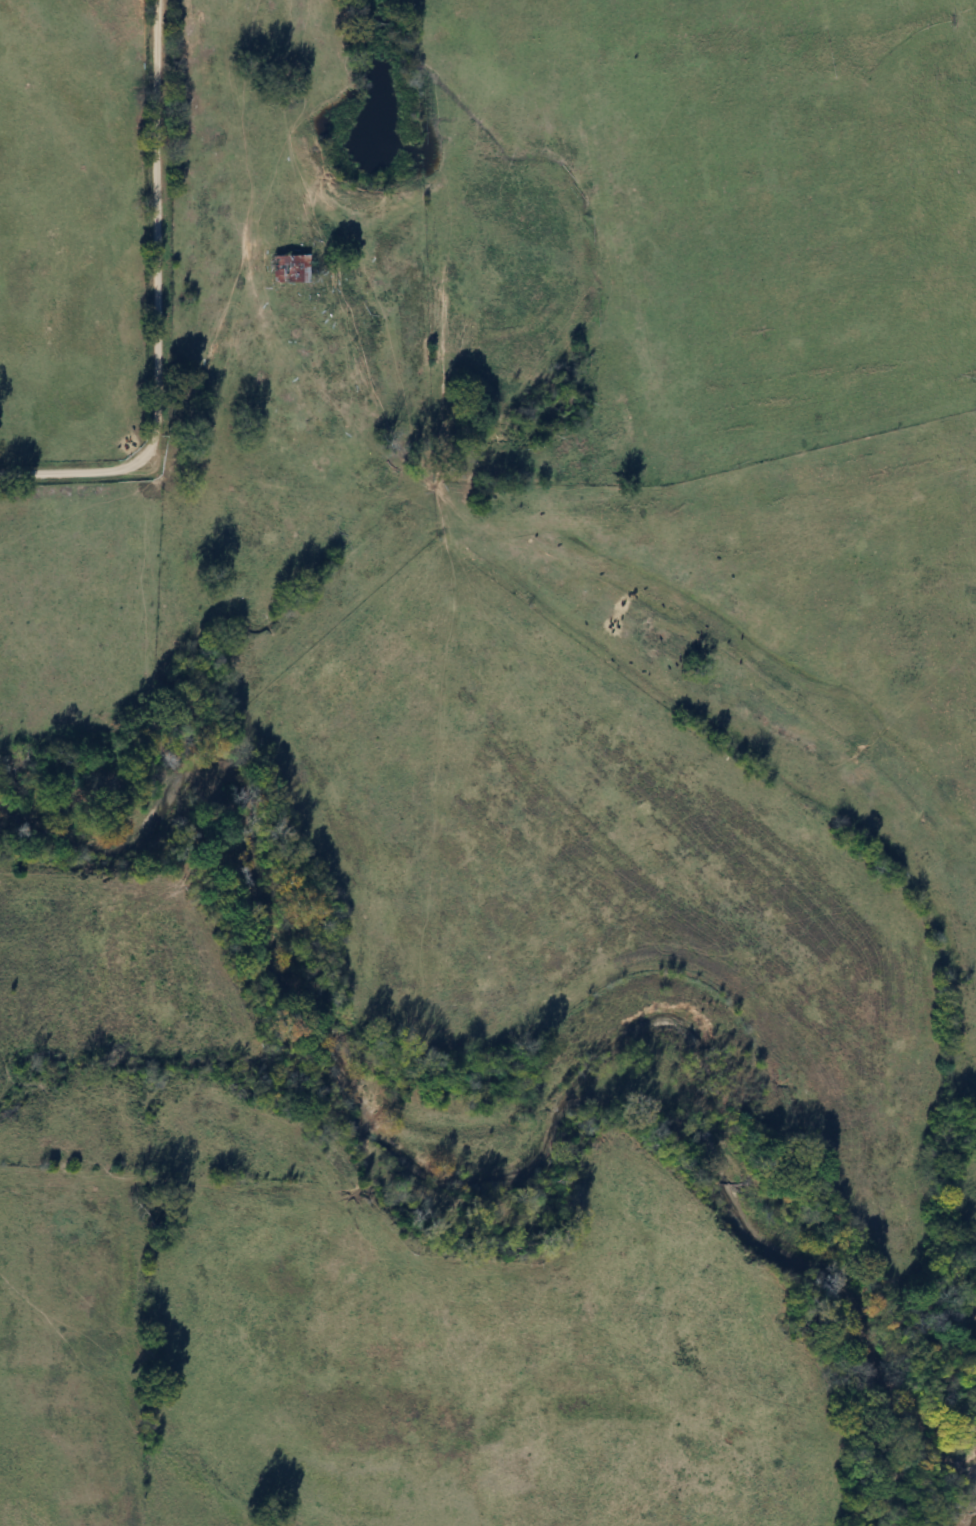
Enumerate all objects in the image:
building: (287, 269)
road: (161, 307)

